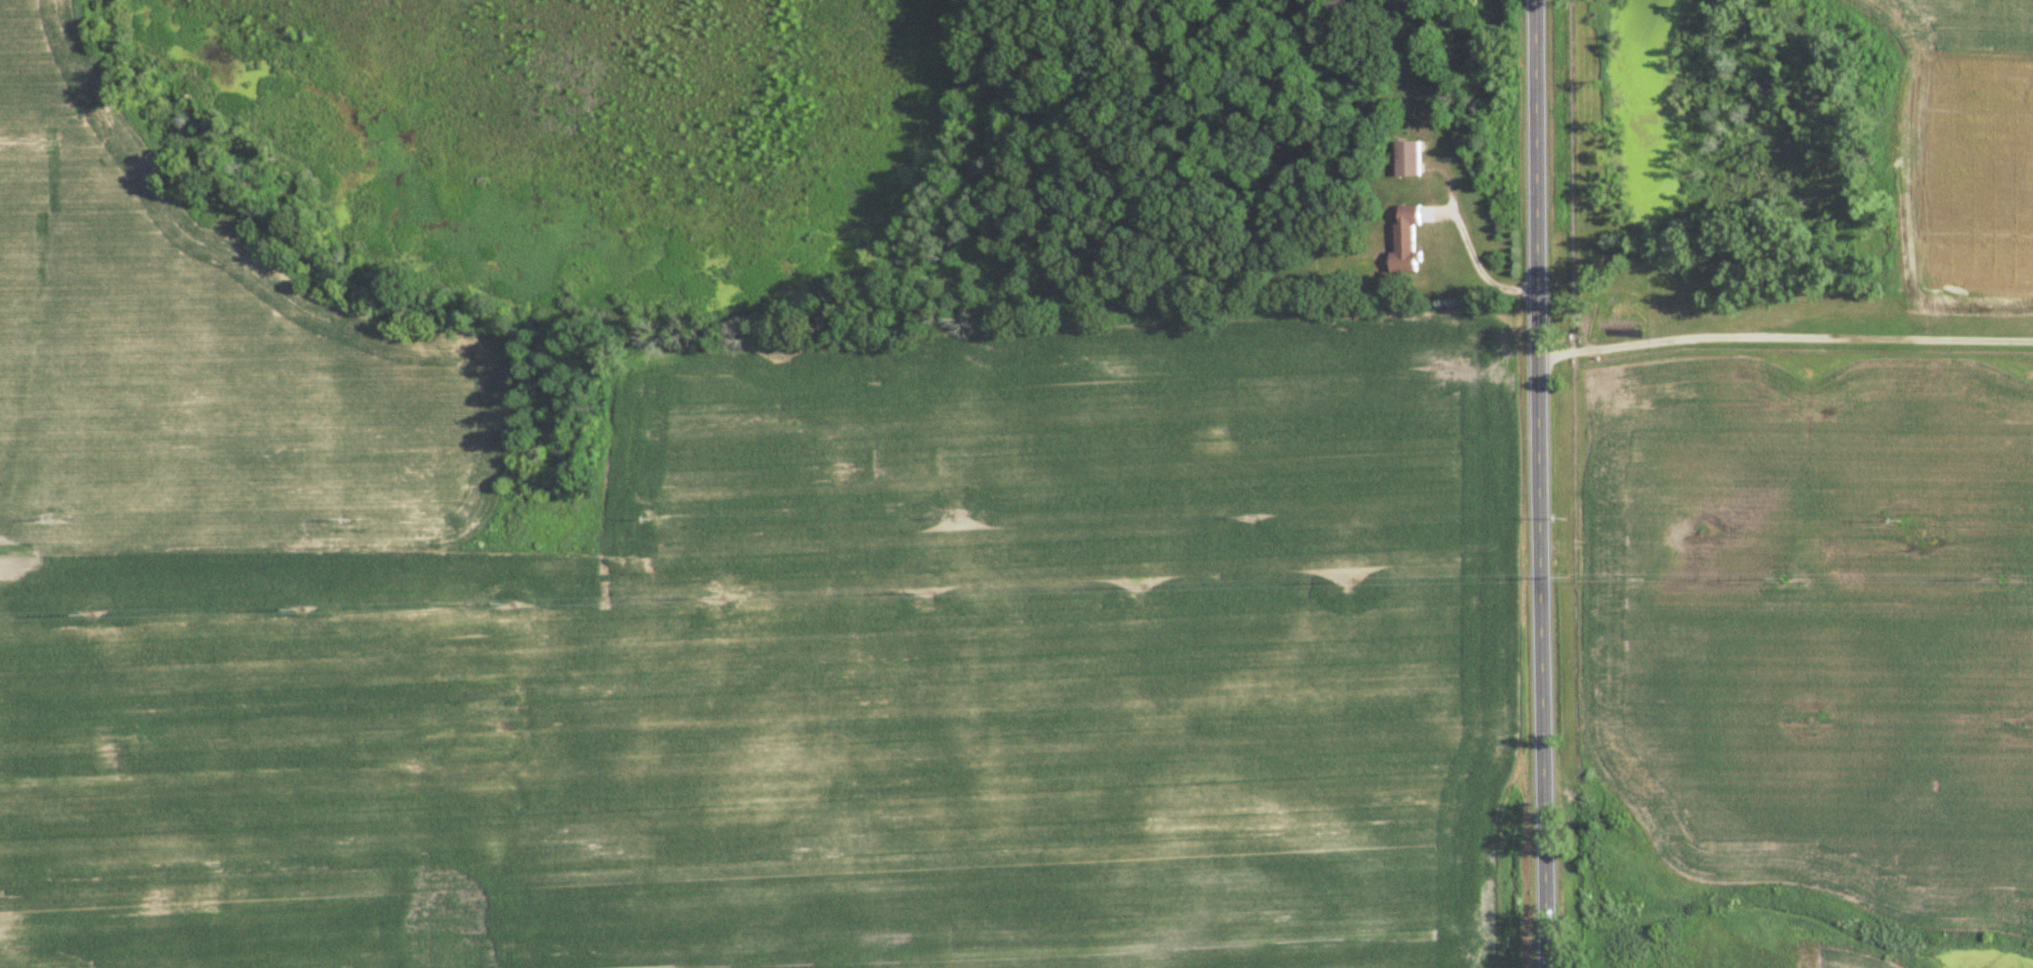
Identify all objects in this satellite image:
building: (1409, 159)
building: (1408, 240)
road: (1470, 244)
road: (1785, 335)
road: (1540, 484)

